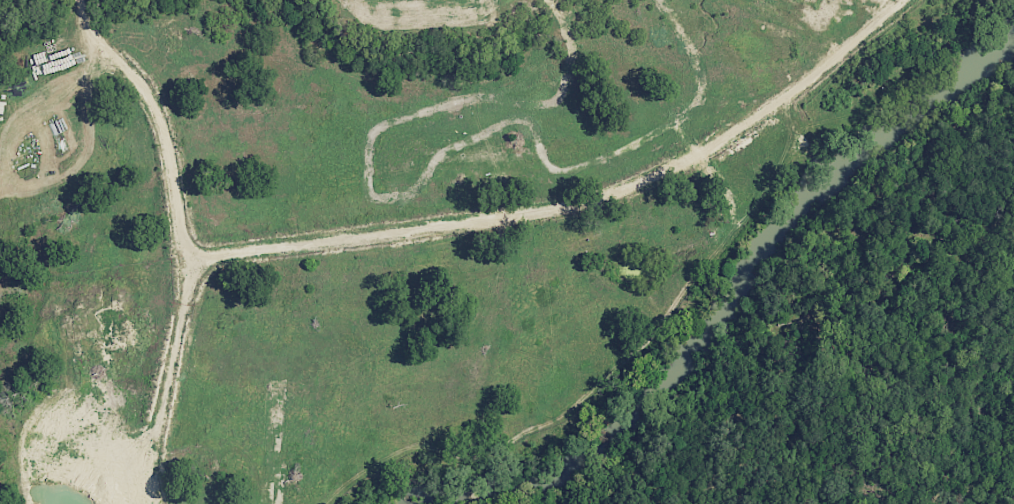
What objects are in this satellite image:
road: (503, 2)
road: (483, 44)
road: (135, 72)
road: (531, 189)
river: (734, 299)

